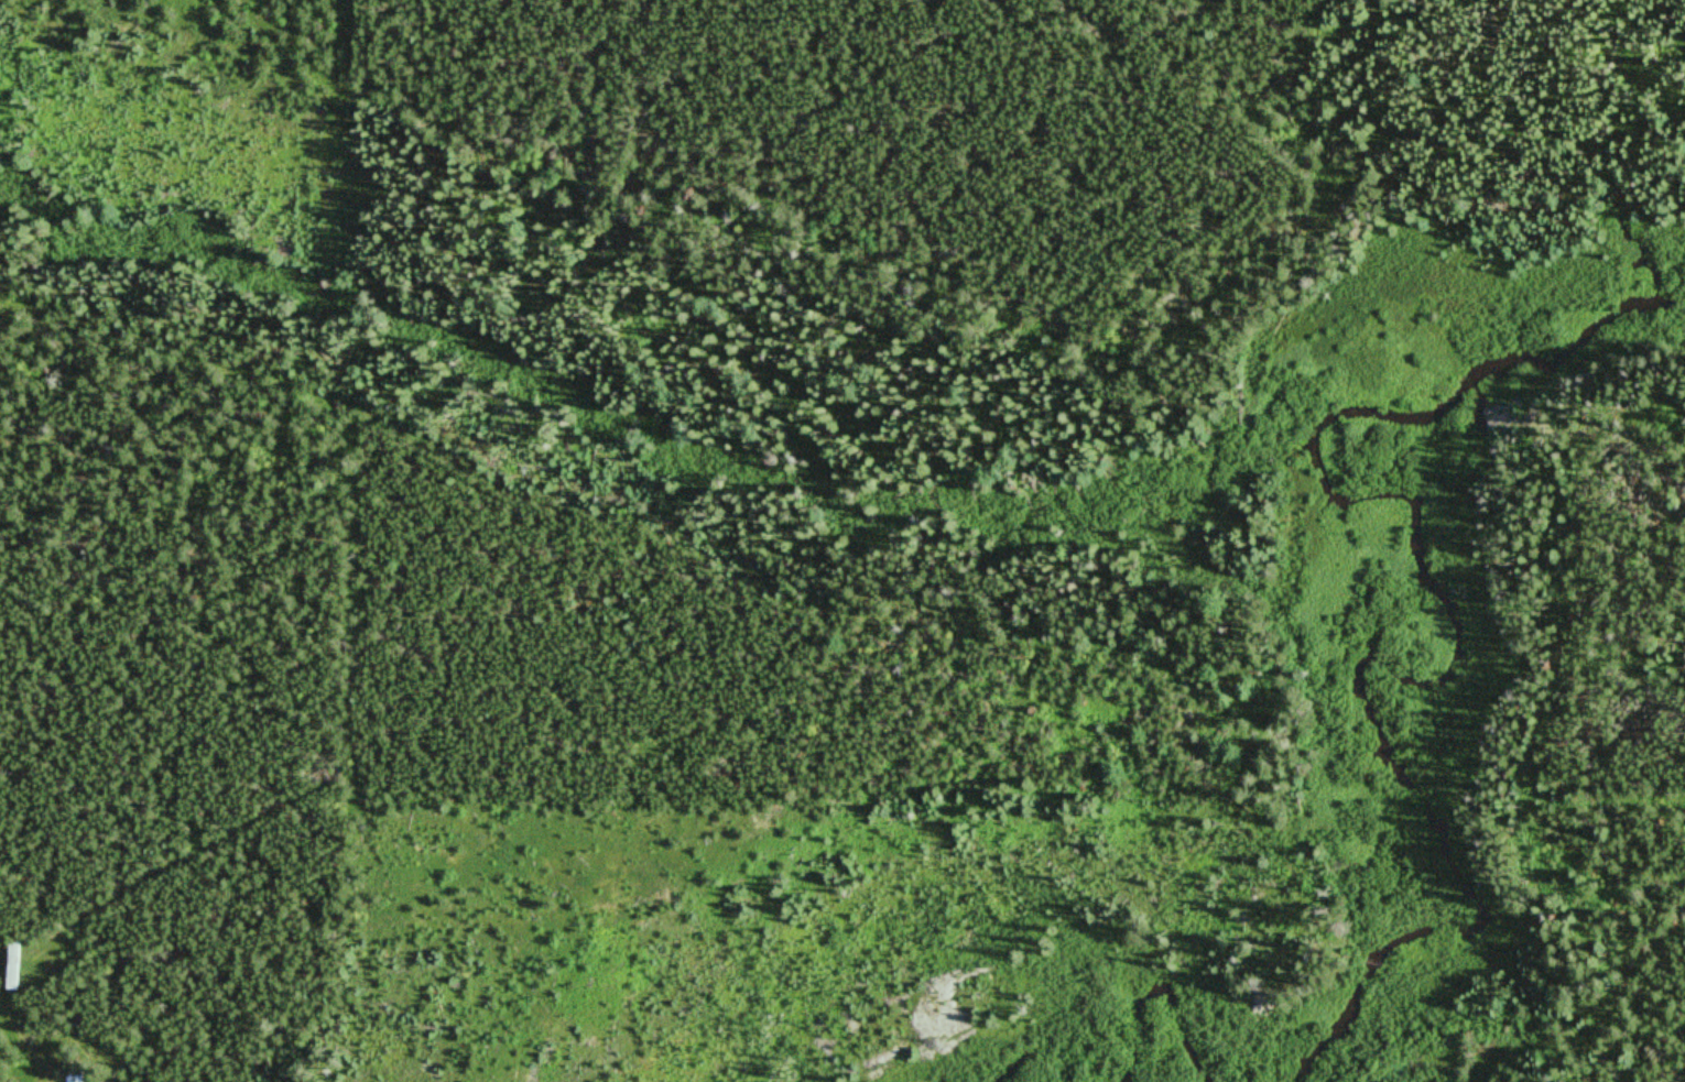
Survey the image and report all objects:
river: (1513, 401)
river: (1378, 798)
road: (14, 960)
building: (13, 964)
building: (76, 1072)

